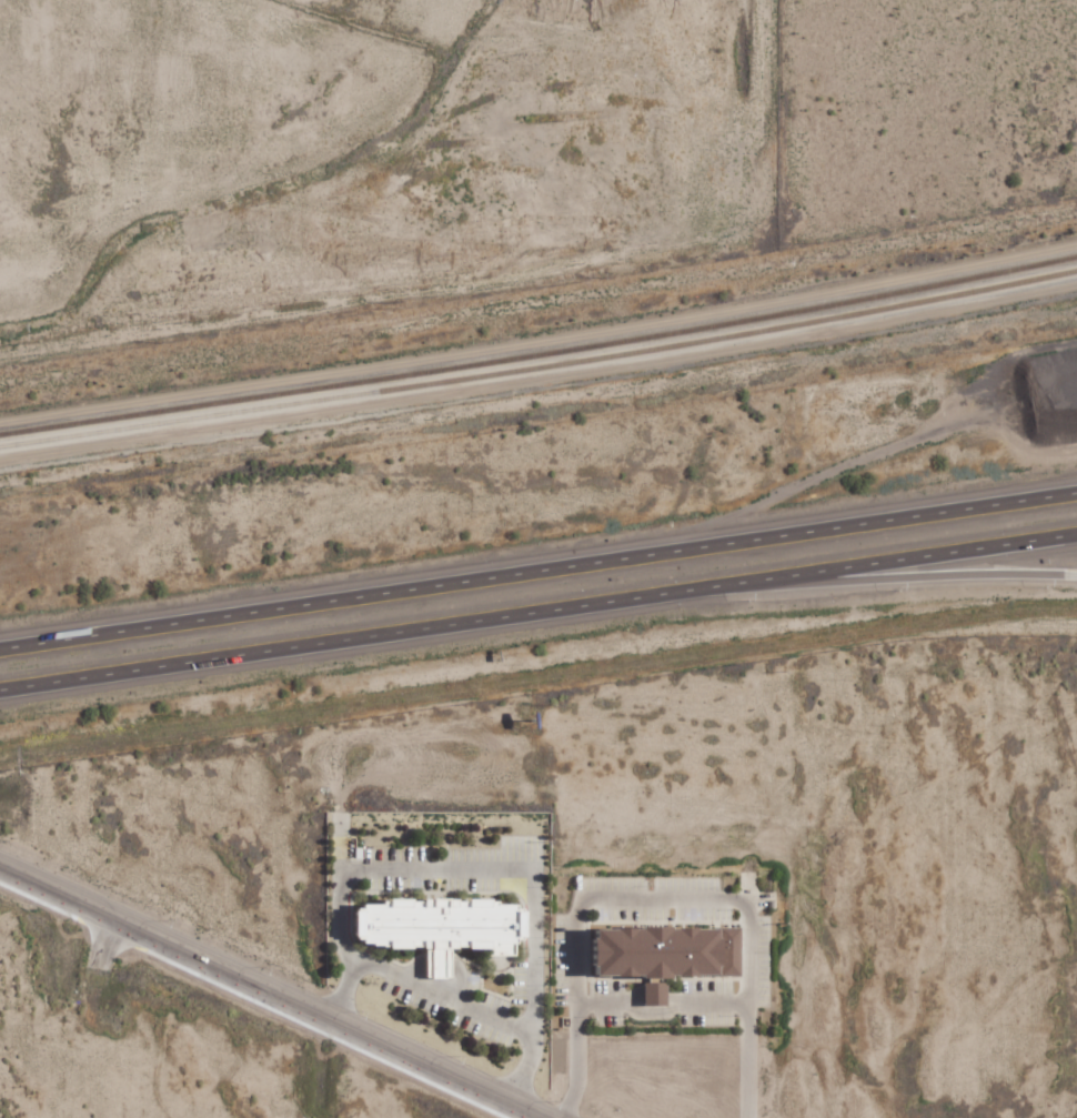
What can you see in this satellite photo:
railway: (540, 350)
railway: (540, 367)
road: (538, 387)
road: (538, 571)
road: (874, 581)
road: (538, 612)
building: (443, 927)
building: (670, 951)
road: (272, 991)
building: (660, 993)

